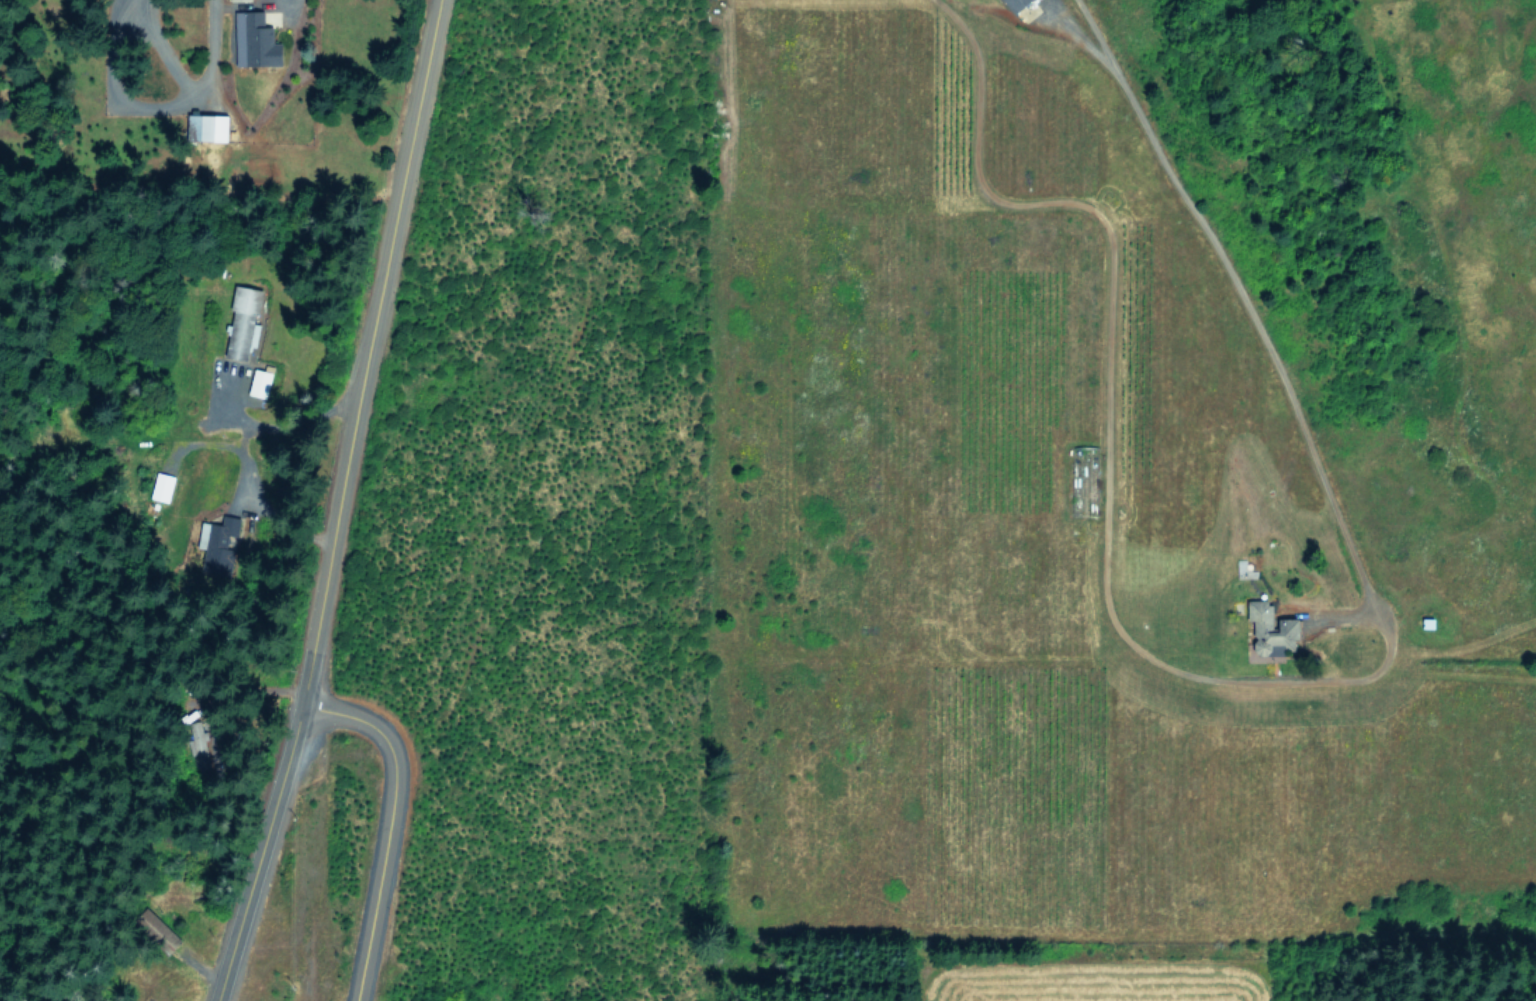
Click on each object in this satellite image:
building: (245, 0)
building: (1017, 4)
building: (256, 40)
building: (209, 126)
building: (243, 321)
road: (1258, 325)
road: (360, 350)
building: (259, 382)
road: (1105, 430)
road: (264, 434)
building: (162, 486)
building: (218, 544)
building: (1265, 629)
road: (384, 823)
road: (250, 851)

